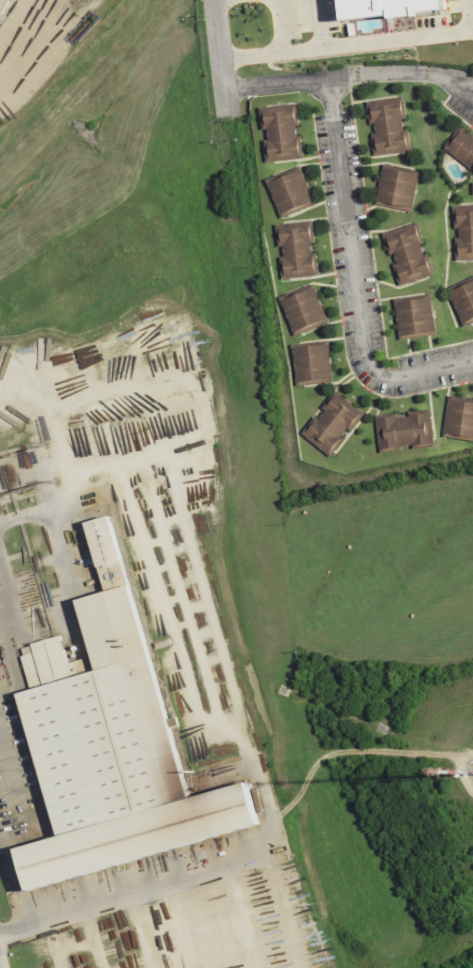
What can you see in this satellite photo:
road: (4, 5)
building: (389, 8)
road: (471, 16)
street lamp: (301, 24)
road: (320, 24)
road: (279, 27)
parking lot: (311, 31)
road: (30, 45)
road: (344, 46)
road: (300, 81)
road: (468, 94)
building: (386, 127)
building: (279, 133)
building: (460, 148)
road: (297, 160)
road: (296, 167)
building: (394, 188)
building: (291, 191)
road: (467, 204)
road: (306, 210)
road: (311, 219)
road: (368, 225)
building: (462, 232)
building: (294, 250)
building: (405, 254)
road: (448, 260)
road: (464, 261)
road: (312, 276)
road: (353, 277)
road: (464, 278)
road: (310, 284)
building: (462, 300)
road: (340, 309)
building: (300, 311)
building: (412, 317)
road: (472, 324)
road: (323, 326)
road: (321, 340)
road: (430, 344)
road: (409, 347)
road: (429, 350)
building: (309, 363)
road: (329, 382)
road: (72, 398)
road: (355, 403)
road: (445, 407)
road: (432, 415)
building: (459, 420)
building: (329, 423)
road: (375, 426)
building: (405, 432)
road: (60, 523)
road: (9, 594)
road: (347, 714)
road: (375, 737)
building: (114, 742)
road: (422, 745)
road: (360, 751)
road: (14, 771)
road: (14, 822)
road: (133, 881)
road: (1, 963)

